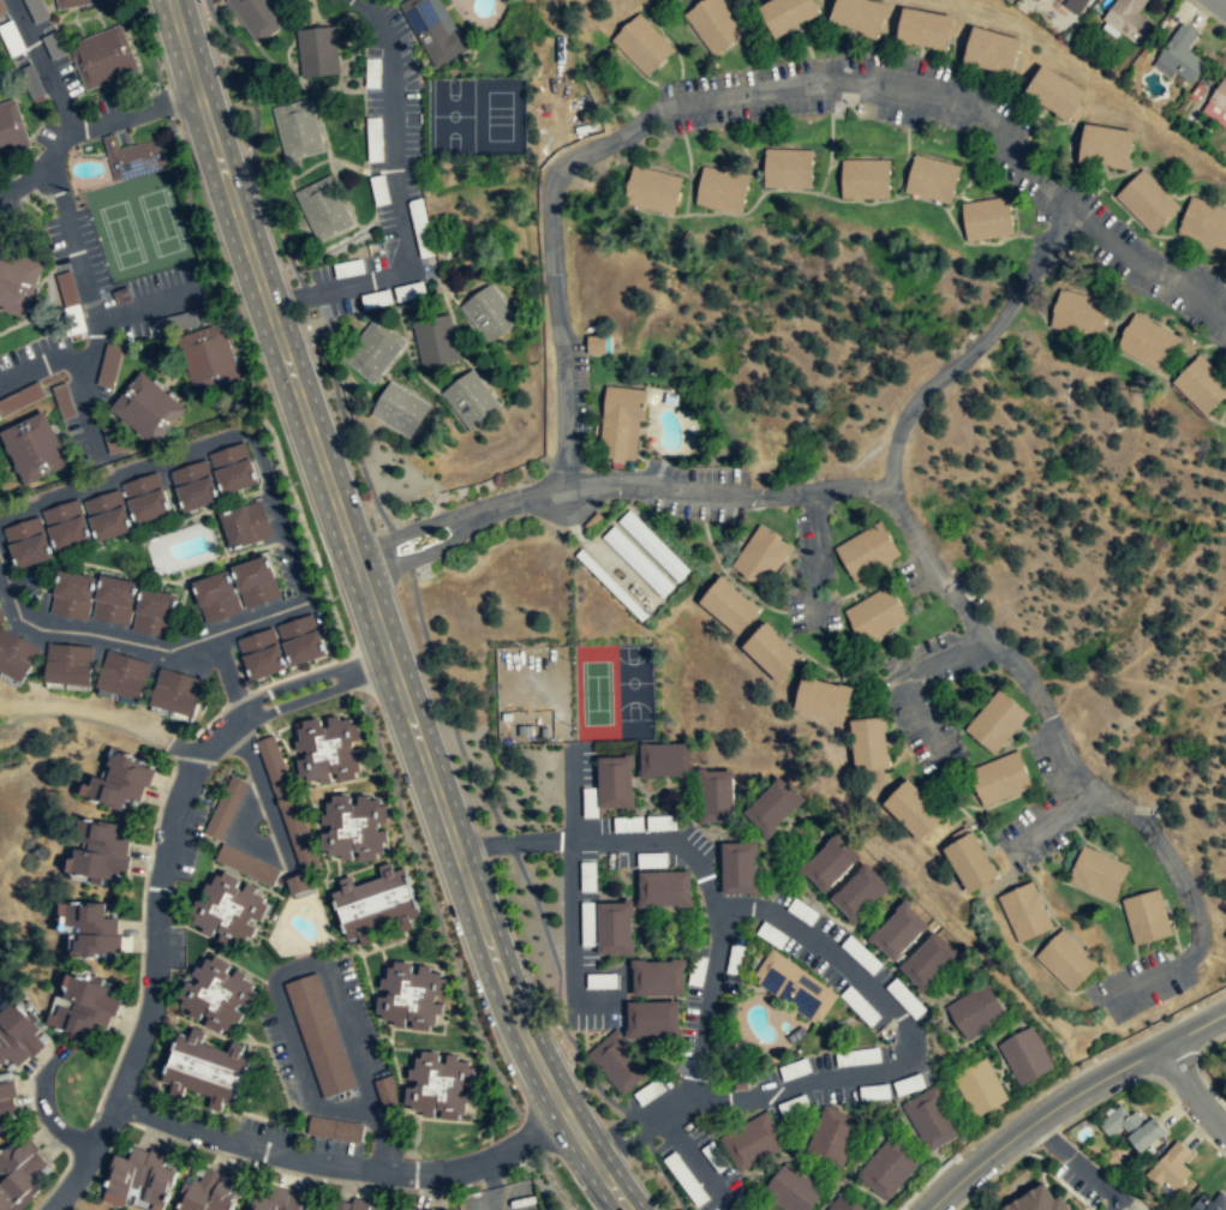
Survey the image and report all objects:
road: (1224, 0)
road: (172, 1)
building: (71, 2)
building: (1081, 2)
building: (37, 10)
street lamp: (143, 13)
building: (787, 13)
building: (258, 16)
building: (860, 16)
building: (1128, 19)
building: (713, 24)
building: (432, 30)
building: (925, 30)
road: (34, 43)
building: (642, 44)
building: (317, 50)
building: (991, 52)
building: (102, 56)
building: (1179, 58)
road: (886, 85)
building: (1054, 92)
building: (1219, 101)
road: (161, 102)
road: (65, 108)
building: (11, 127)
building: (298, 128)
street lamp: (177, 132)
road: (58, 146)
building: (1105, 146)
park: (90, 148)
building: (132, 157)
building: (787, 169)
road: (395, 172)
building: (865, 180)
building: (932, 180)
road: (550, 191)
building: (652, 191)
building: (722, 191)
building: (1147, 203)
building: (323, 208)
building: (986, 220)
park: (138, 223)
building: (1203, 223)
road: (1049, 244)
street lamp: (217, 252)
road: (1146, 268)
building: (17, 282)
road: (294, 299)
road: (149, 306)
road: (92, 309)
building: (488, 313)
building: (1078, 315)
building: (435, 342)
building: (1147, 343)
building: (594, 345)
building: (373, 352)
building: (208, 357)
road: (43, 365)
building: (110, 365)
road: (943, 376)
building: (1201, 387)
building: (470, 400)
building: (17, 401)
building: (146, 408)
road: (563, 409)
building: (399, 411)
building: (622, 425)
building: (115, 439)
building: (34, 448)
building: (232, 466)
street lamp: (294, 483)
building: (195, 485)
road: (686, 487)
road: (823, 491)
building: (145, 497)
road: (483, 511)
building: (107, 514)
road: (903, 522)
building: (66, 523)
building: (246, 523)
building: (26, 540)
building: (654, 546)
building: (867, 552)
road: (812, 556)
building: (760, 558)
road: (294, 563)
building: (636, 563)
road: (928, 568)
building: (256, 580)
building: (72, 593)
building: (216, 595)
building: (114, 598)
street lamp: (334, 598)
building: (729, 606)
road: (962, 607)
building: (154, 611)
road: (373, 615)
building: (1, 616)
building: (875, 616)
building: (301, 639)
building: (772, 652)
building: (262, 653)
building: (14, 654)
building: (68, 663)
road: (376, 664)
road: (1023, 671)
building: (122, 673)
road: (226, 675)
road: (910, 678)
road: (297, 683)
park: (636, 690)
building: (177, 691)
park: (597, 691)
building: (823, 697)
road: (303, 699)
road: (1, 701)
road: (102, 713)
street lamp: (375, 714)
building: (995, 721)
building: (869, 744)
road: (202, 749)
building: (330, 751)
road: (1064, 756)
building: (665, 761)
building: (999, 779)
building: (120, 783)
building: (614, 784)
road: (264, 792)
park: (20, 795)
road: (1078, 795)
building: (717, 797)
building: (286, 803)
building: (226, 807)
building: (773, 808)
building: (913, 810)
street lamp: (414, 827)
road: (1037, 827)
building: (355, 831)
road: (237, 834)
building: (102, 853)
road: (700, 857)
building: (830, 863)
building: (969, 863)
building: (245, 864)
road: (1174, 868)
building: (738, 869)
building: (1098, 873)
building: (294, 882)
road: (157, 889)
building: (664, 891)
building: (860, 894)
building: (377, 905)
building: (228, 911)
building: (1024, 912)
building: (1146, 917)
building: (614, 930)
building: (92, 932)
building: (898, 933)
street lamp: (454, 942)
building: (1066, 960)
building: (929, 964)
road: (285, 971)
building: (657, 980)
road: (1140, 982)
building: (794, 987)
building: (219, 996)
building: (413, 998)
building: (83, 1007)
building: (974, 1012)
road: (345, 1020)
building: (319, 1036)
building: (18, 1040)
road: (910, 1042)
road: (137, 1044)
building: (610, 1052)
road: (298, 1054)
street lamp: (497, 1058)
building: (1024, 1058)
building: (203, 1068)
building: (441, 1085)
road: (1053, 1086)
road: (1195, 1086)
building: (977, 1089)
road: (1069, 1098)
building: (6, 1100)
road: (42, 1107)
road: (346, 1109)
building: (929, 1120)
road: (190, 1126)
road: (379, 1126)
road: (639, 1126)
building: (1131, 1127)
building: (336, 1131)
building: (831, 1138)
building: (750, 1143)
road: (86, 1158)
road: (313, 1160)
street lamp: (558, 1164)
road: (471, 1166)
road: (1080, 1166)
building: (886, 1170)
building: (1171, 1170)
building: (22, 1175)
building: (136, 1178)
road: (492, 1185)
building: (207, 1191)
building: (791, 1191)
parking lot: (501, 1197)
building: (273, 1200)
building: (1039, 1202)
building: (1210, 1203)
building: (348, 1204)
building: (844, 1204)
building: (734, 1208)
building: (741, 1208)
building: (409, 1209)

